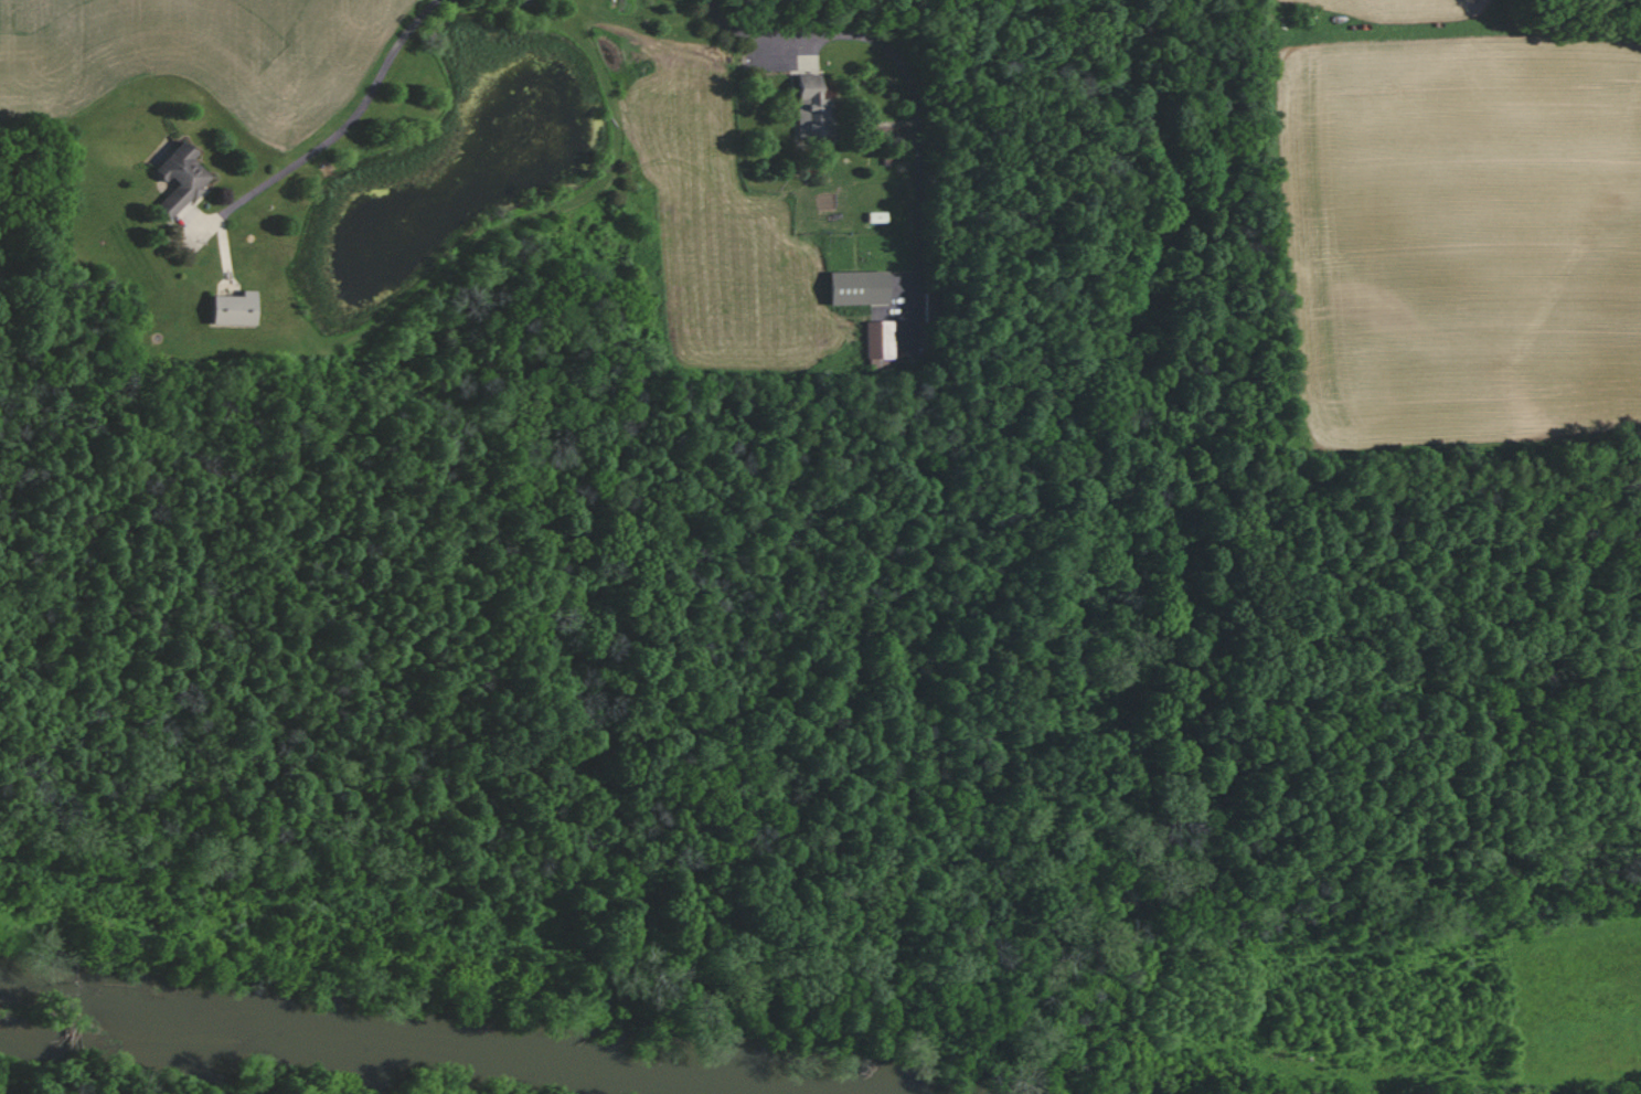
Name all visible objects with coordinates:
road: (912, 65)
building: (808, 109)
road: (359, 129)
building: (175, 180)
building: (851, 288)
building: (227, 310)
building: (876, 340)
river: (300, 1056)

